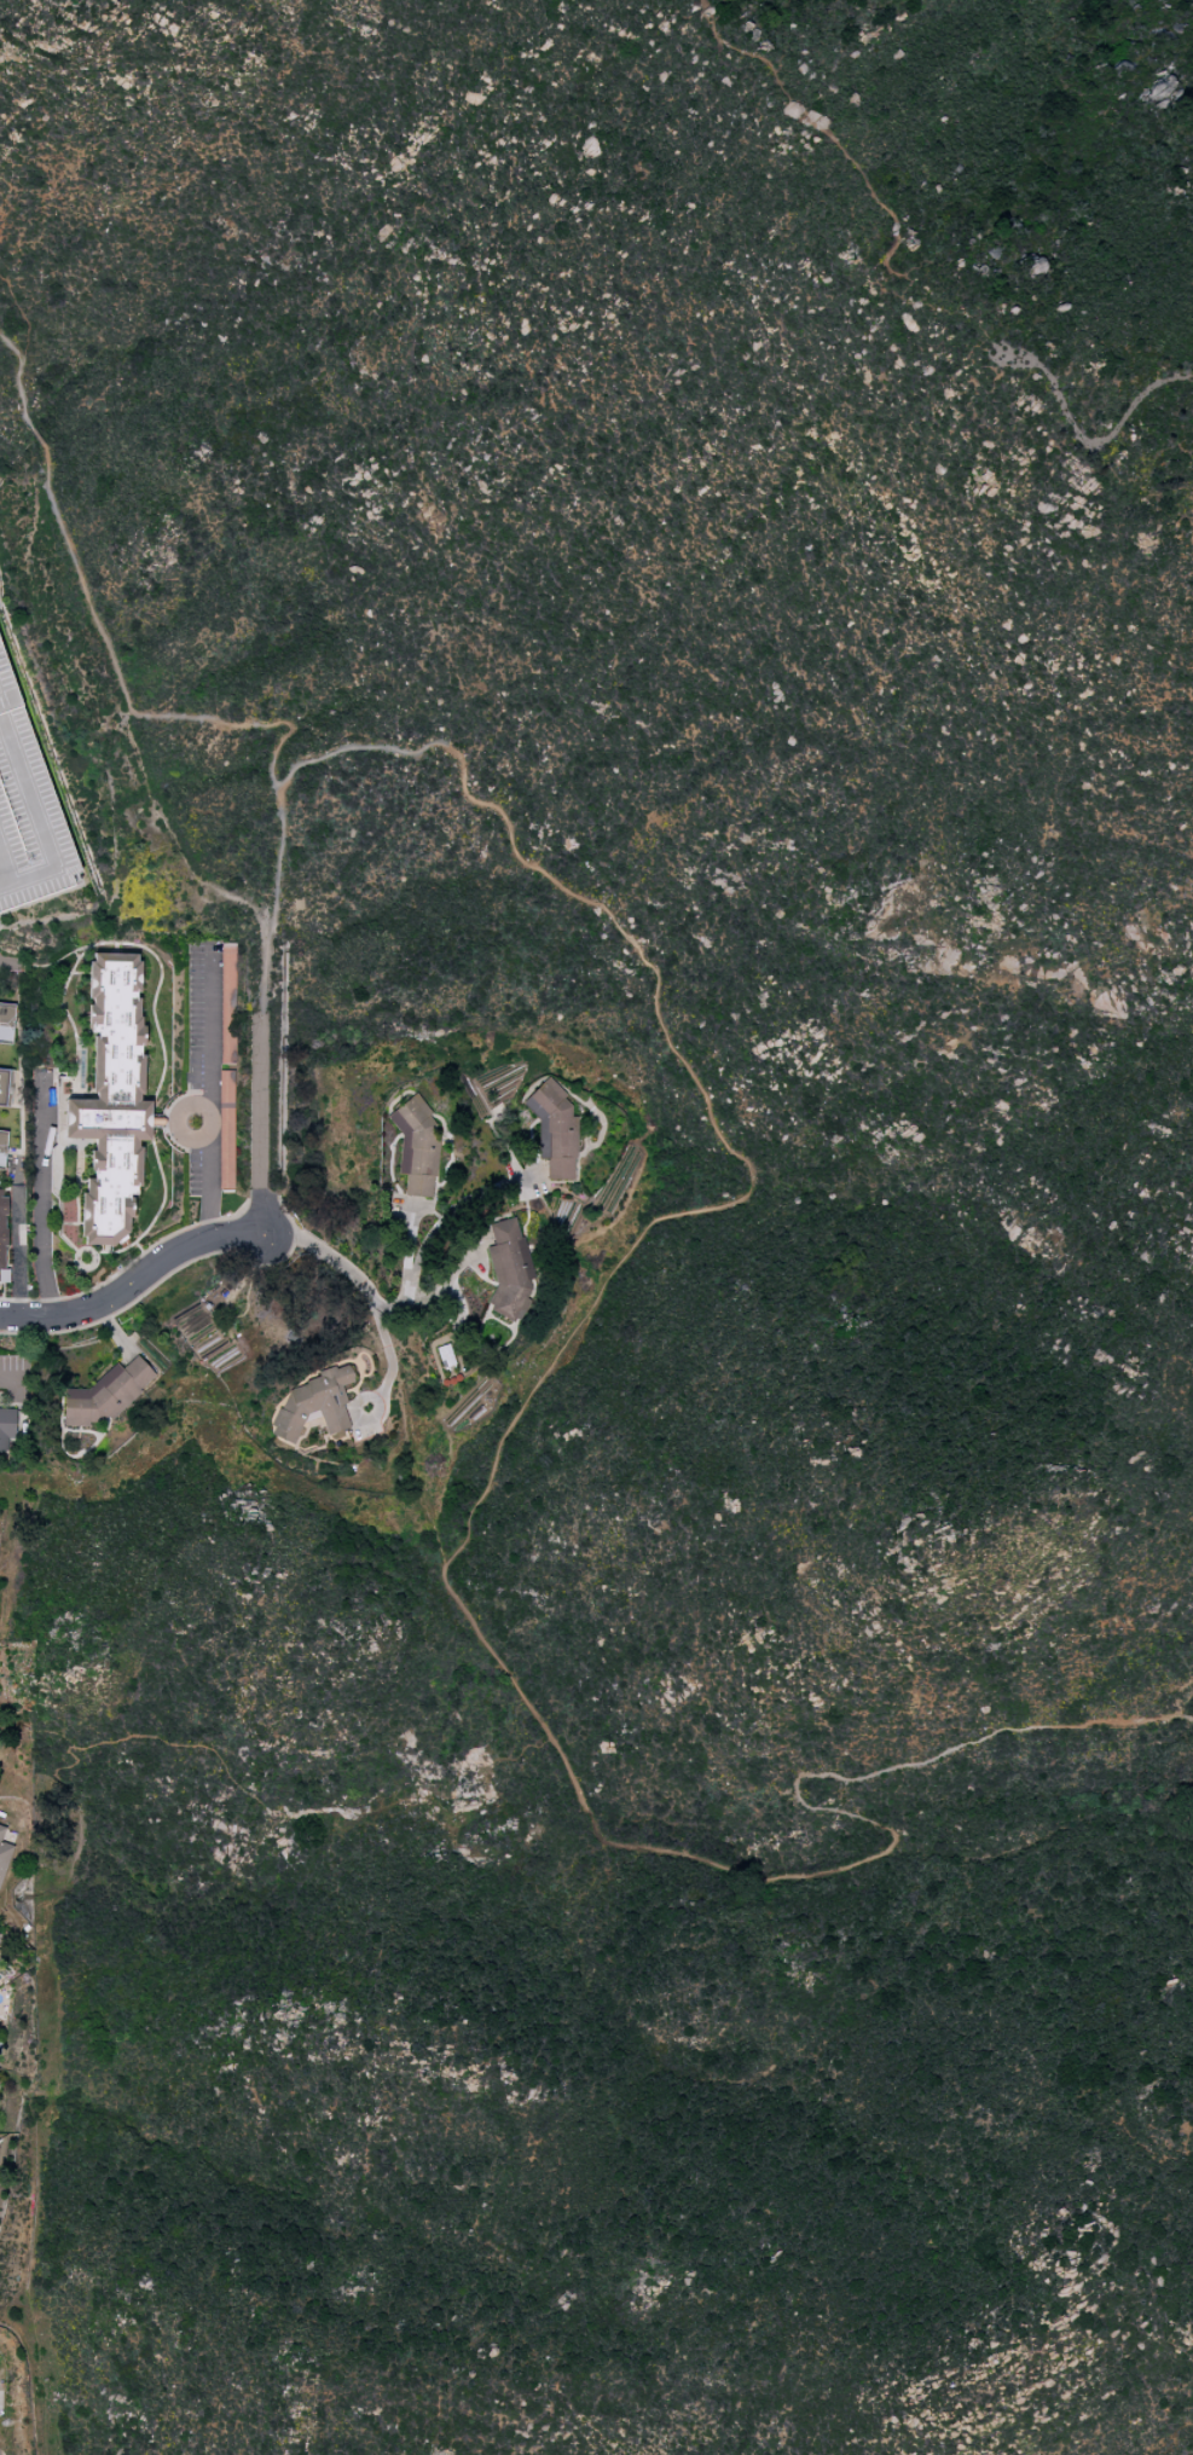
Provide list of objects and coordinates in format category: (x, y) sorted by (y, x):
road: (914, 282)
road: (98, 631)
building: (28, 758)
building: (1, 826)
road: (8, 966)
building: (226, 1003)
building: (6, 1021)
road: (260, 1085)
road: (207, 1092)
building: (111, 1100)
building: (225, 1130)
building: (554, 1130)
building: (2, 1137)
building: (415, 1147)
road: (39, 1195)
building: (2, 1229)
road: (432, 1232)
road: (238, 1238)
building: (508, 1268)
road: (8, 1382)
building: (104, 1395)
building: (313, 1403)
building: (6, 1430)
road: (499, 1449)
building: (1, 1831)
building: (4, 1857)

